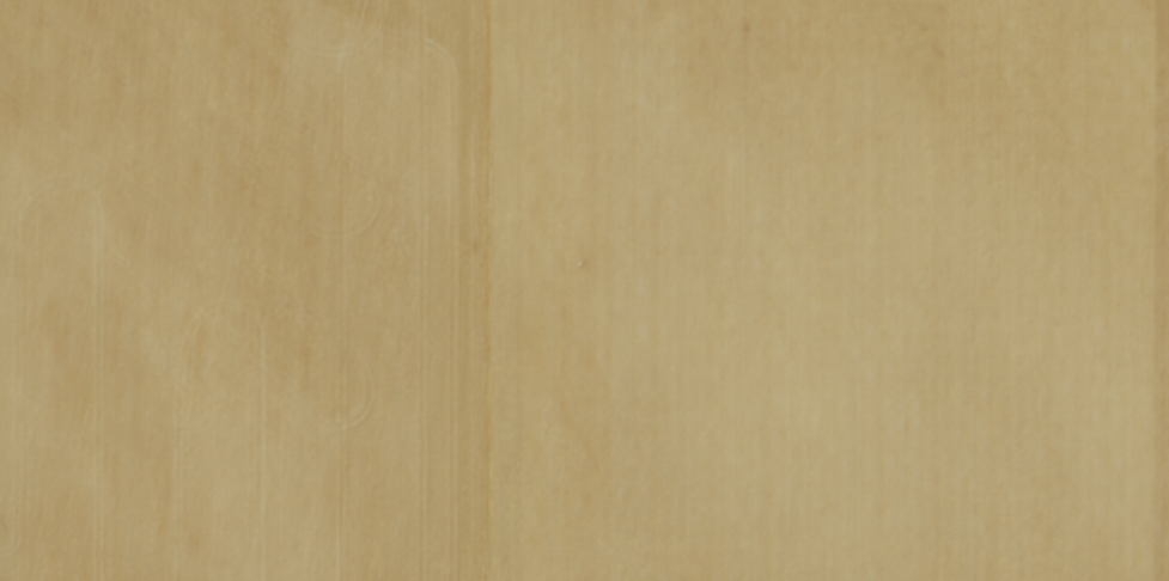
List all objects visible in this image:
crop: (584, 290)

